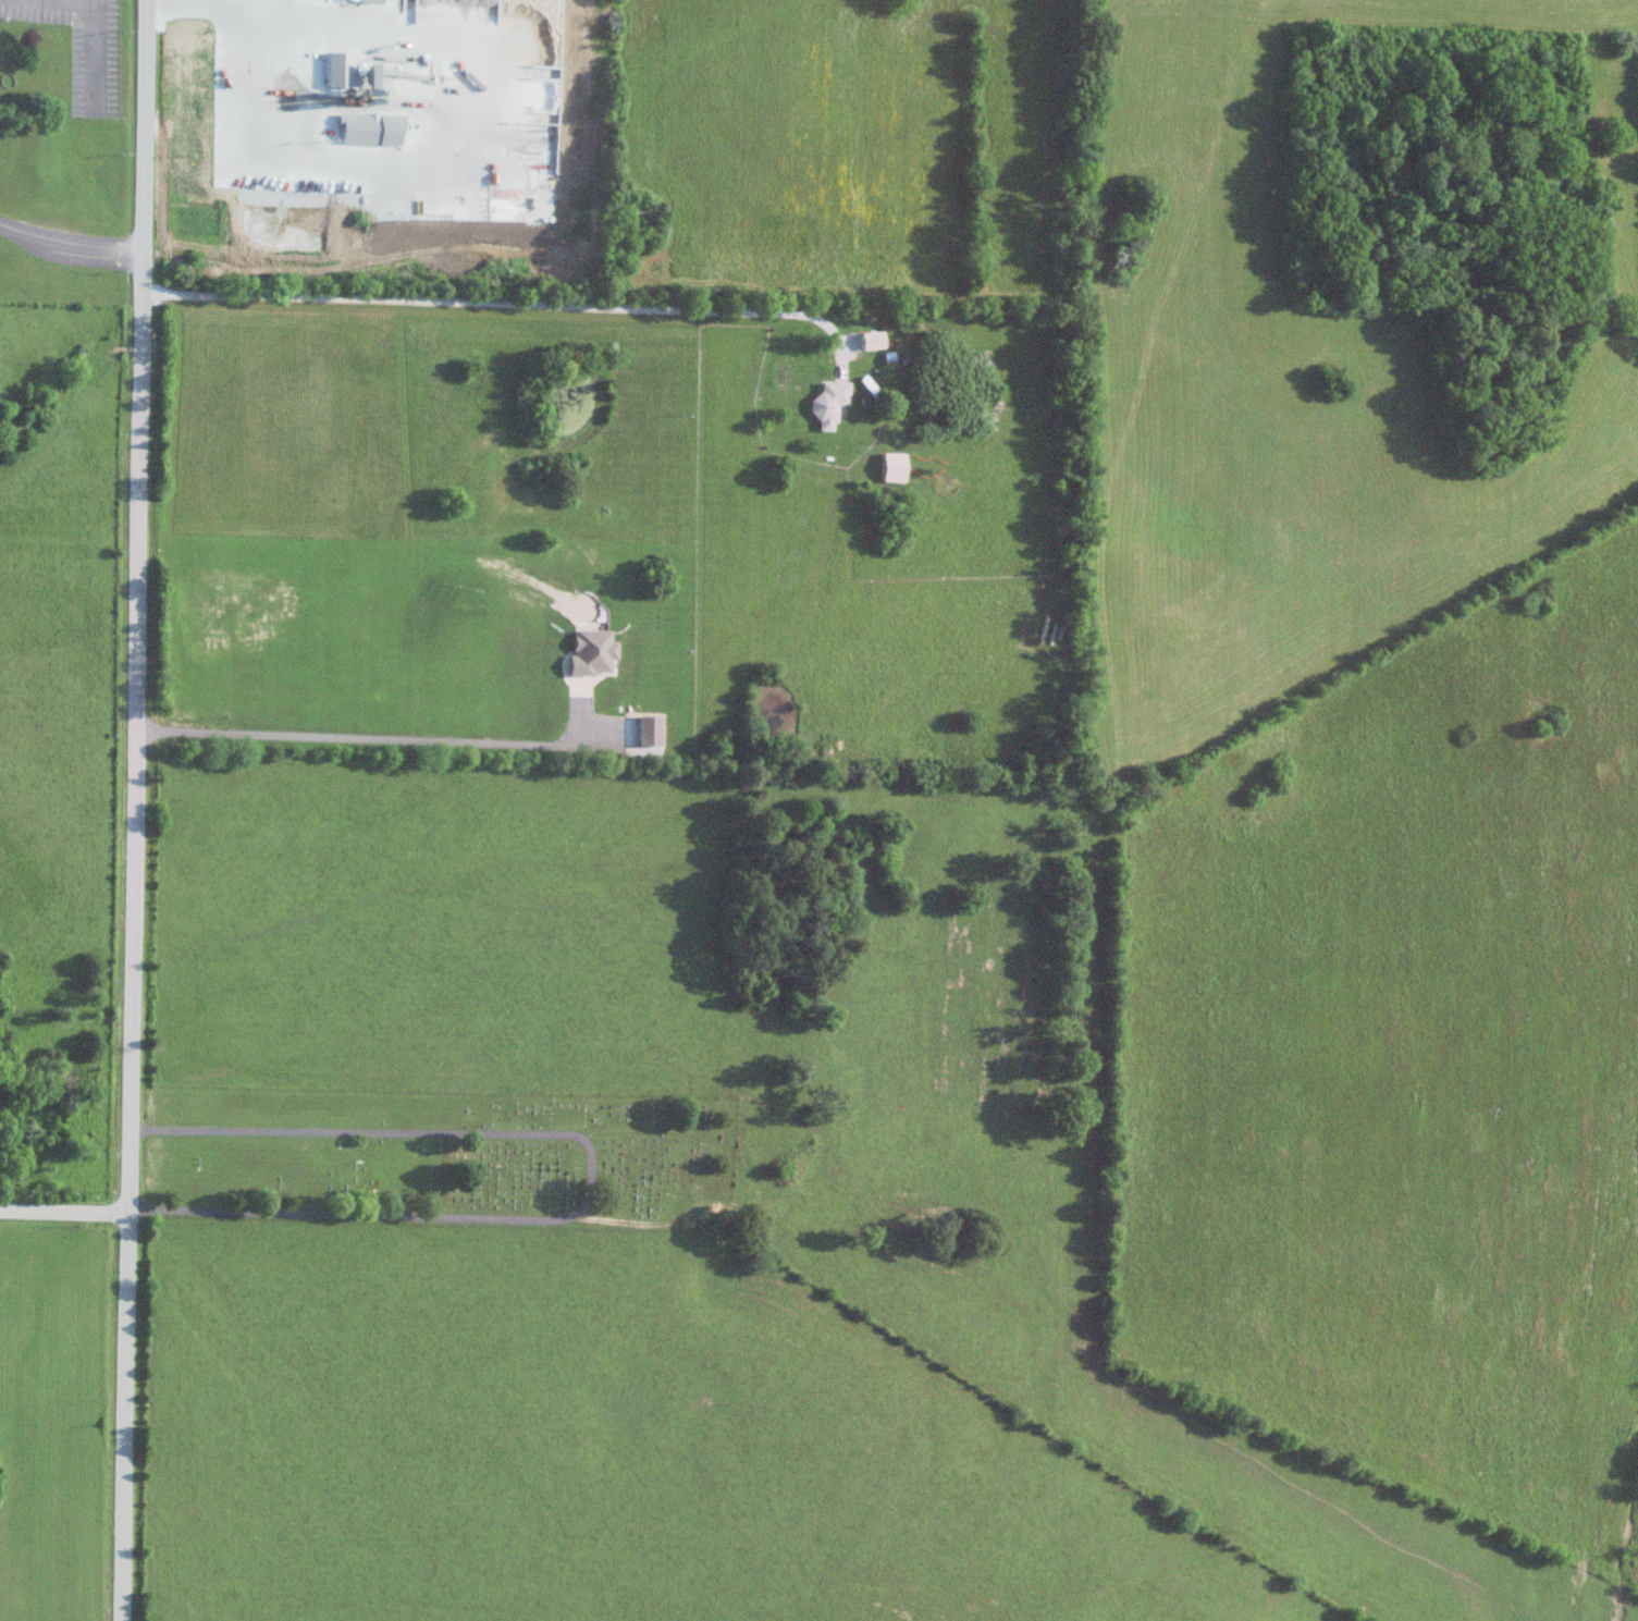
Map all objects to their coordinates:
road: (69, 244)
road: (476, 292)
building: (830, 404)
building: (891, 466)
road: (368, 736)
road: (134, 810)
park: (441, 1158)
road: (63, 1211)

